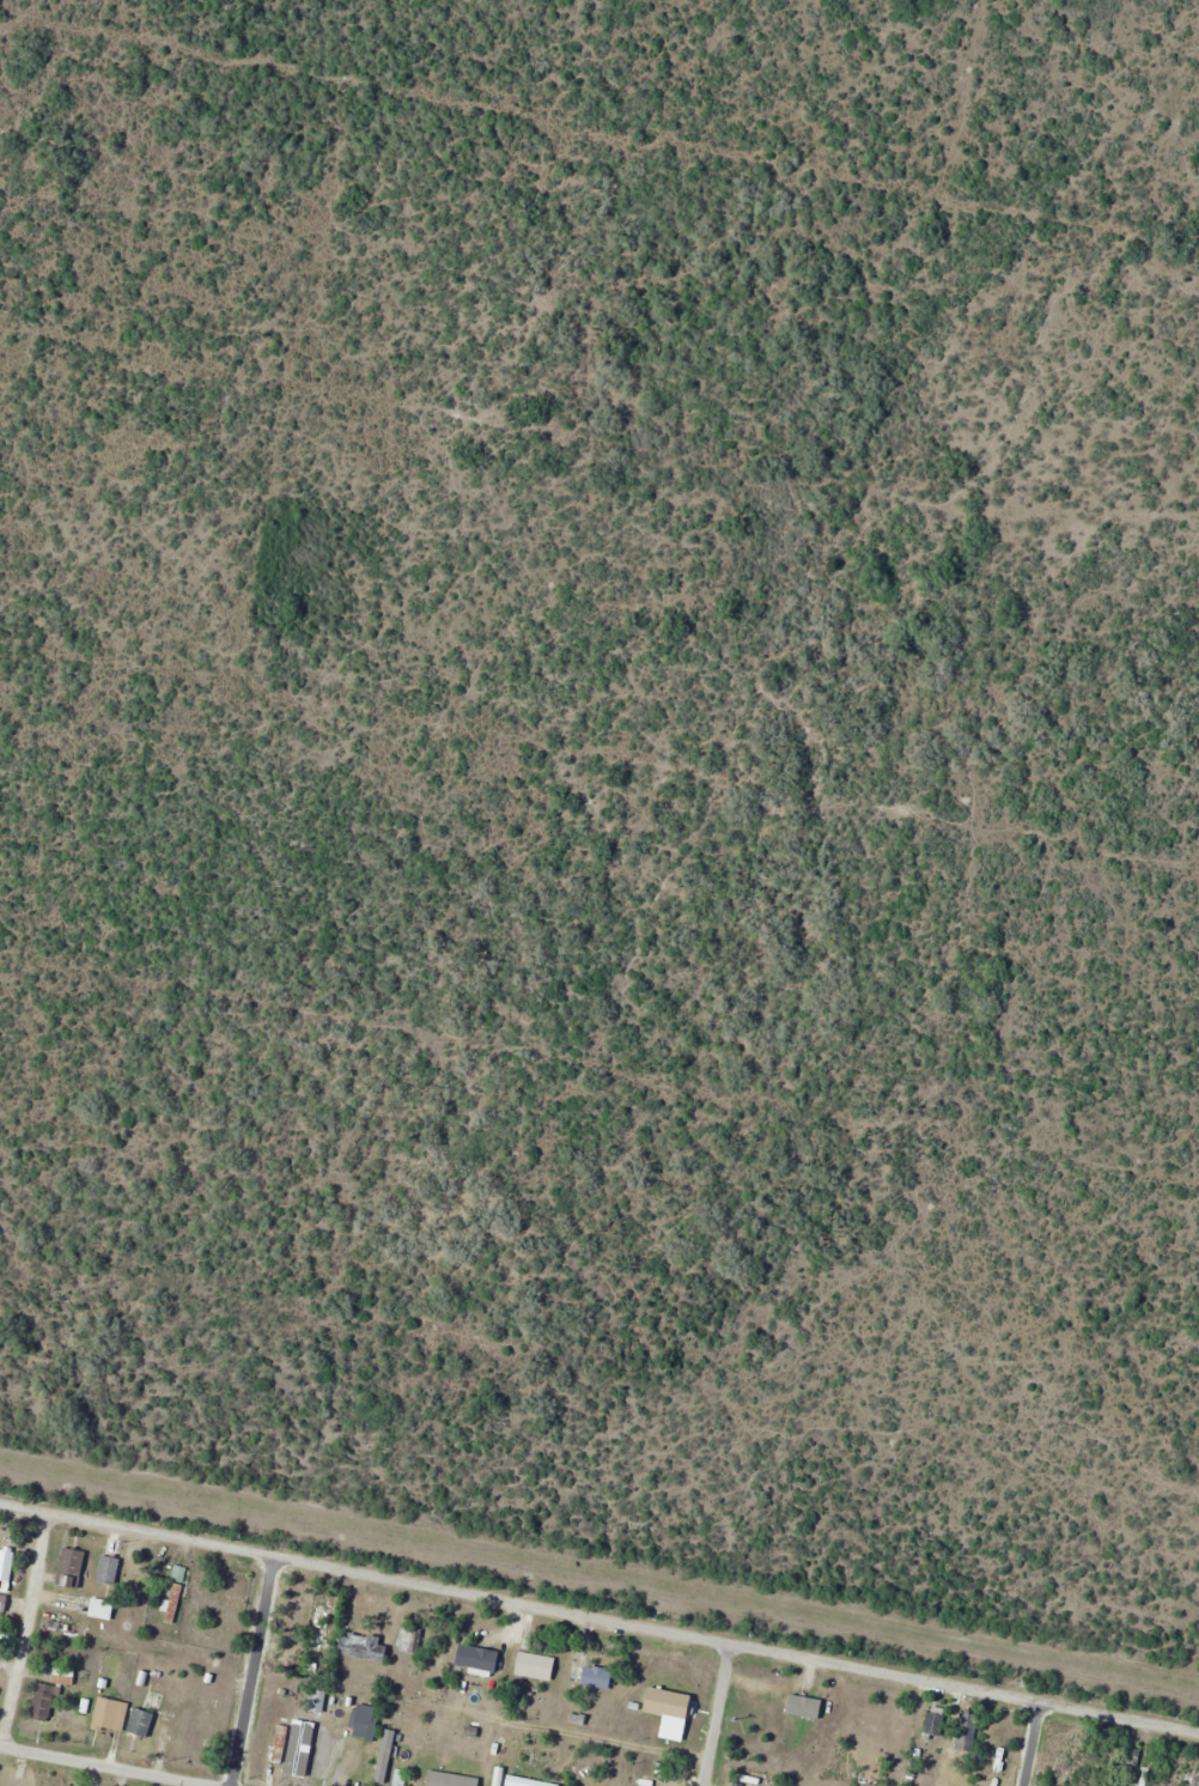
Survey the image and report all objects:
building: (72, 1568)
building: (5, 1569)
building: (109, 1569)
building: (179, 1573)
building: (2, 1602)
building: (175, 1603)
building: (102, 1609)
road: (599, 1615)
building: (318, 1624)
building: (57, 1629)
road: (30, 1630)
building: (410, 1639)
building: (365, 1647)
building: (479, 1659)
building: (527, 1664)
road: (250, 1670)
building: (598, 1678)
building: (50, 1693)
building: (659, 1702)
road: (722, 1714)
building: (110, 1715)
building: (367, 1723)
building: (935, 1723)
building: (141, 1724)
building: (280, 1743)
building: (966, 1743)
road: (1035, 1743)
building: (323, 1754)
road: (98, 1767)
building: (382, 1773)
building: (452, 1779)
building: (1192, 1779)
building: (525, 1781)
building: (649, 1784)

